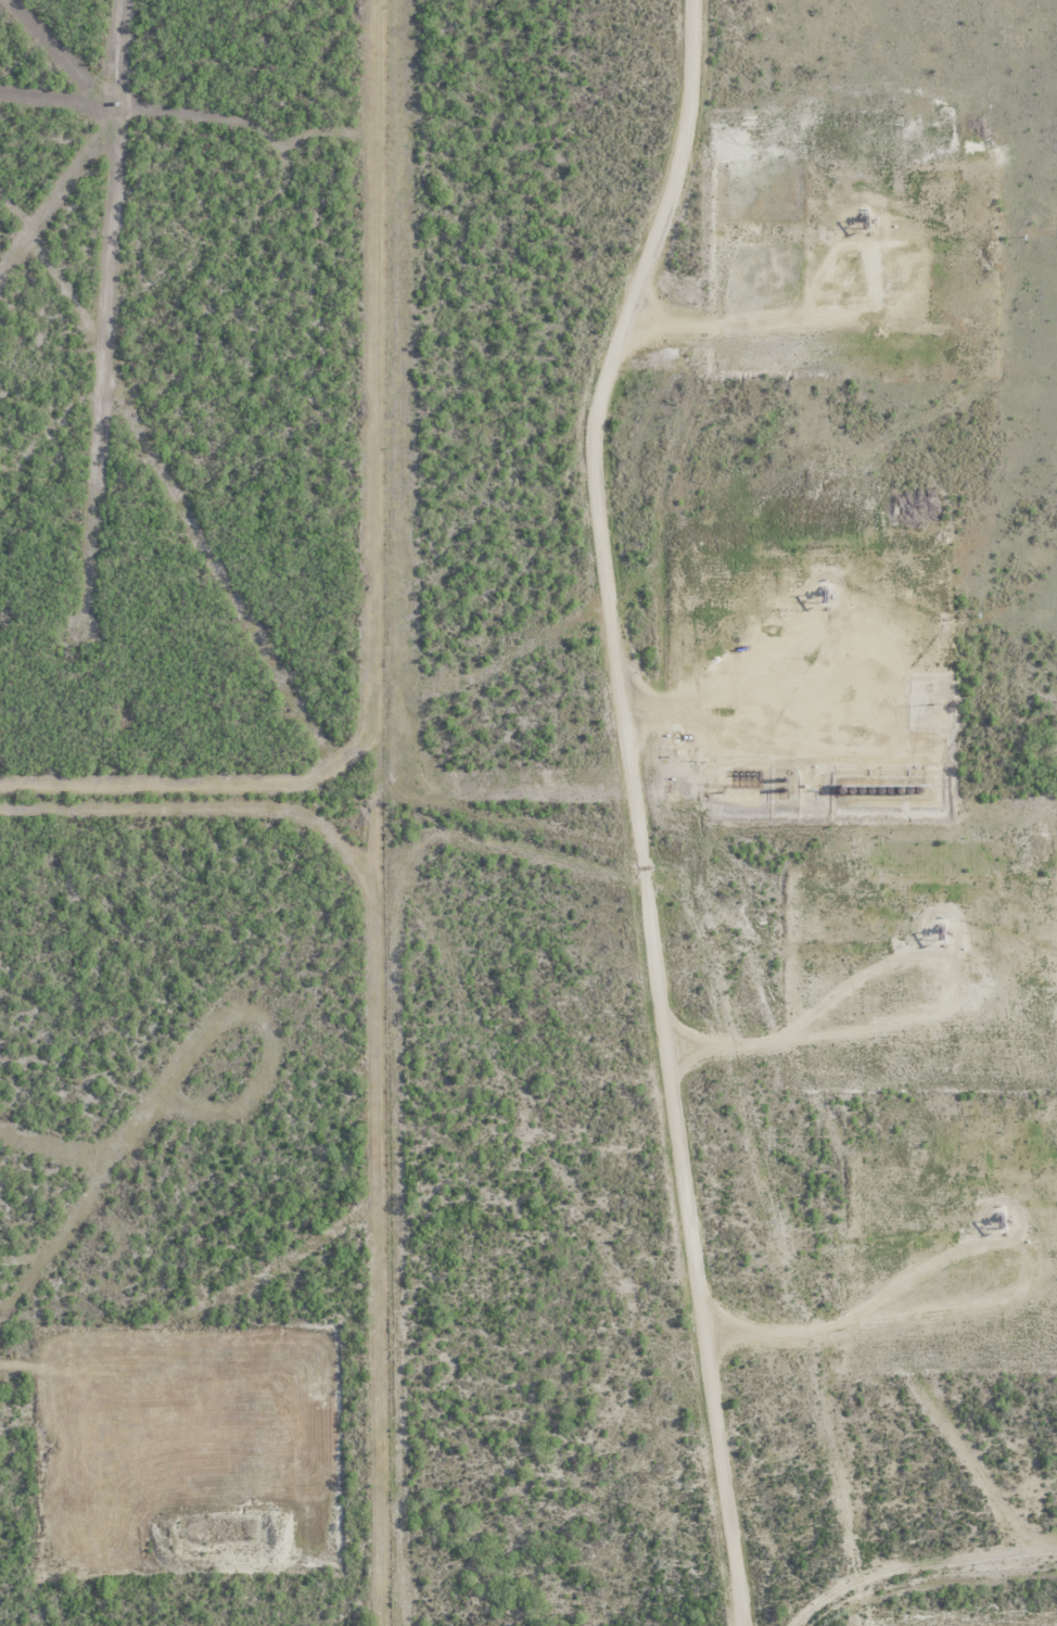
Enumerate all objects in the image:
road: (649, 225)
road: (735, 333)
road: (726, 714)
road: (667, 1037)
road: (763, 1054)
road: (794, 1335)

